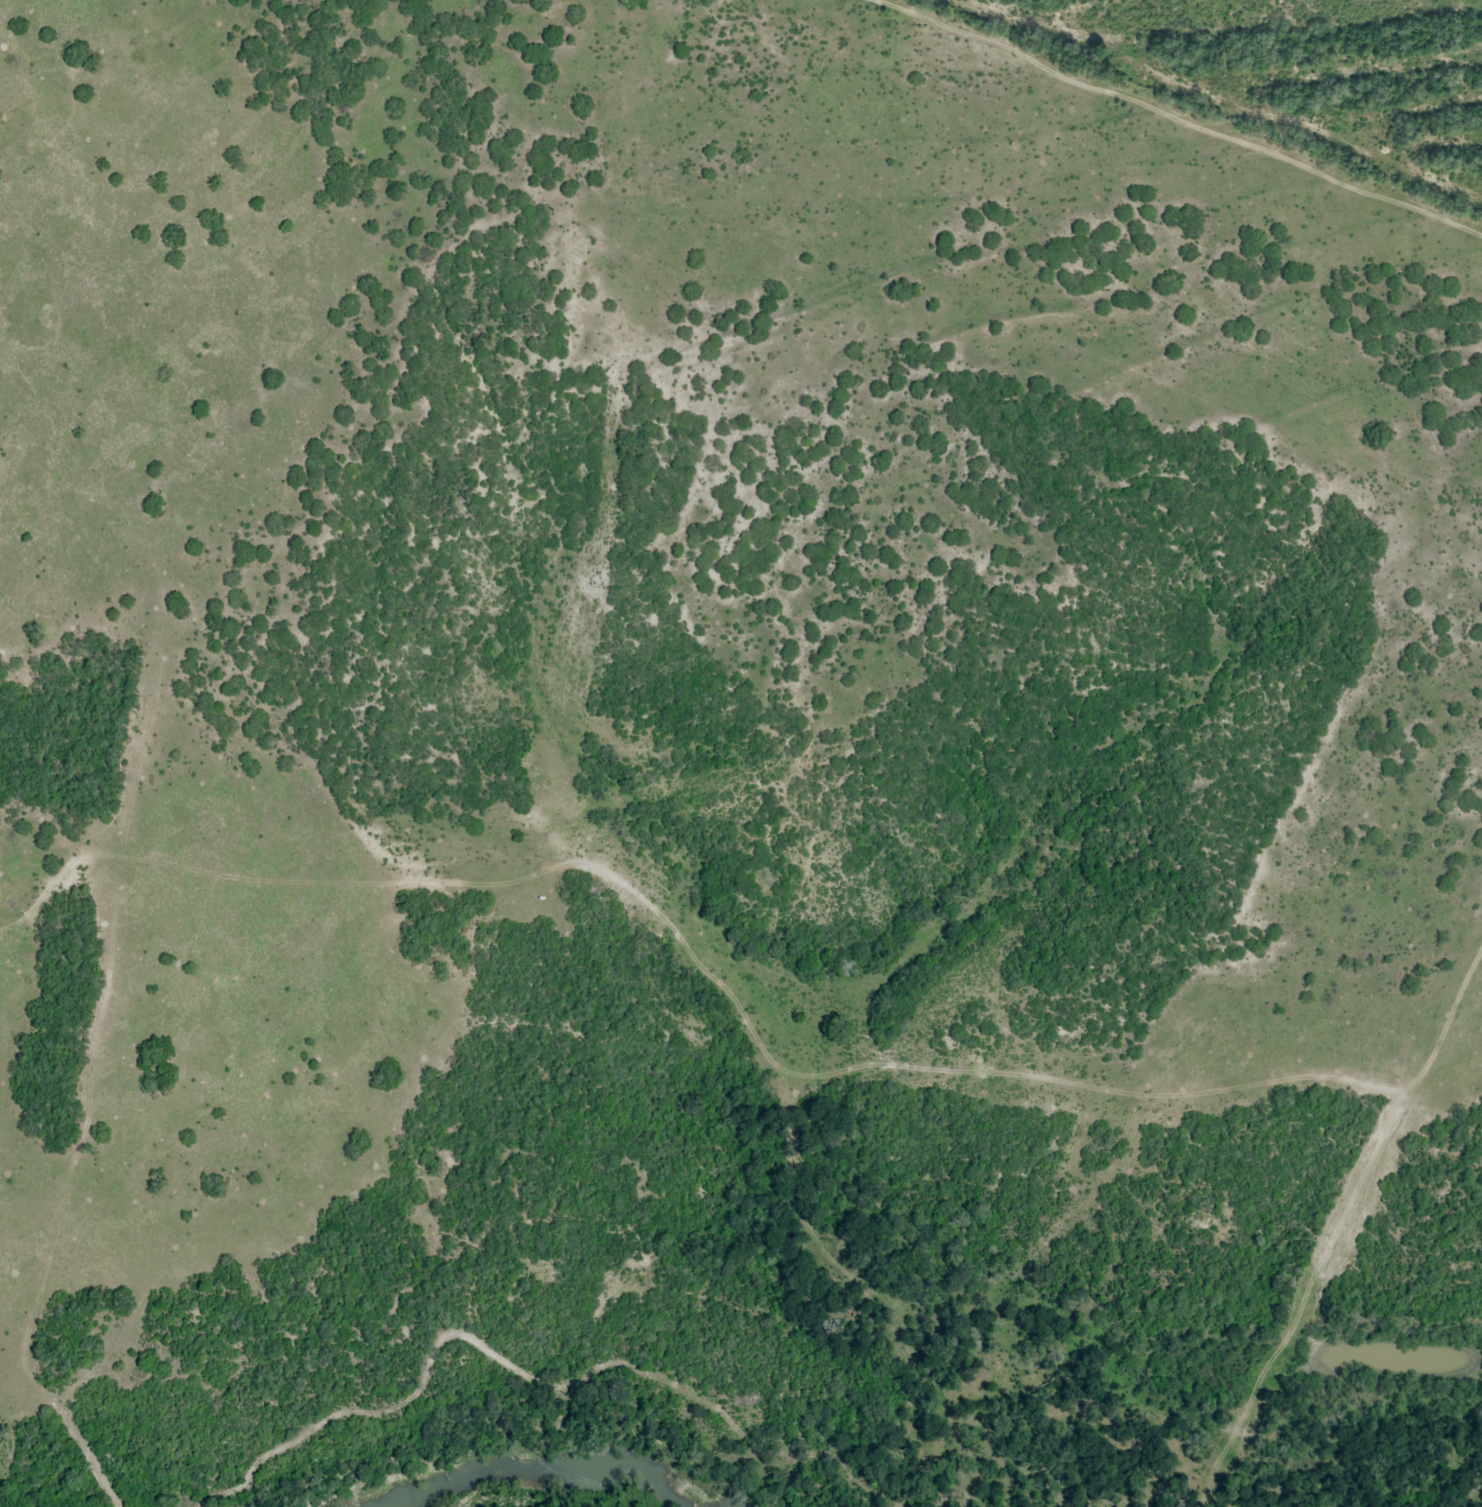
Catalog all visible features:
river: (540, 1469)

